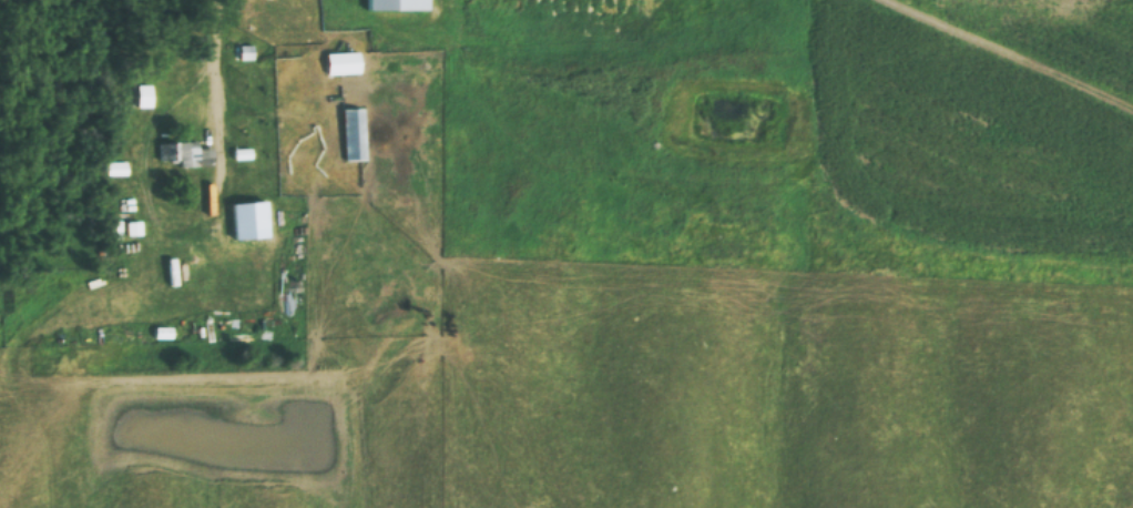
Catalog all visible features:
building: (397, 4)
road: (211, 32)
road: (1012, 52)
building: (341, 62)
building: (144, 95)
building: (353, 133)
building: (184, 153)
building: (248, 220)
road: (159, 232)

